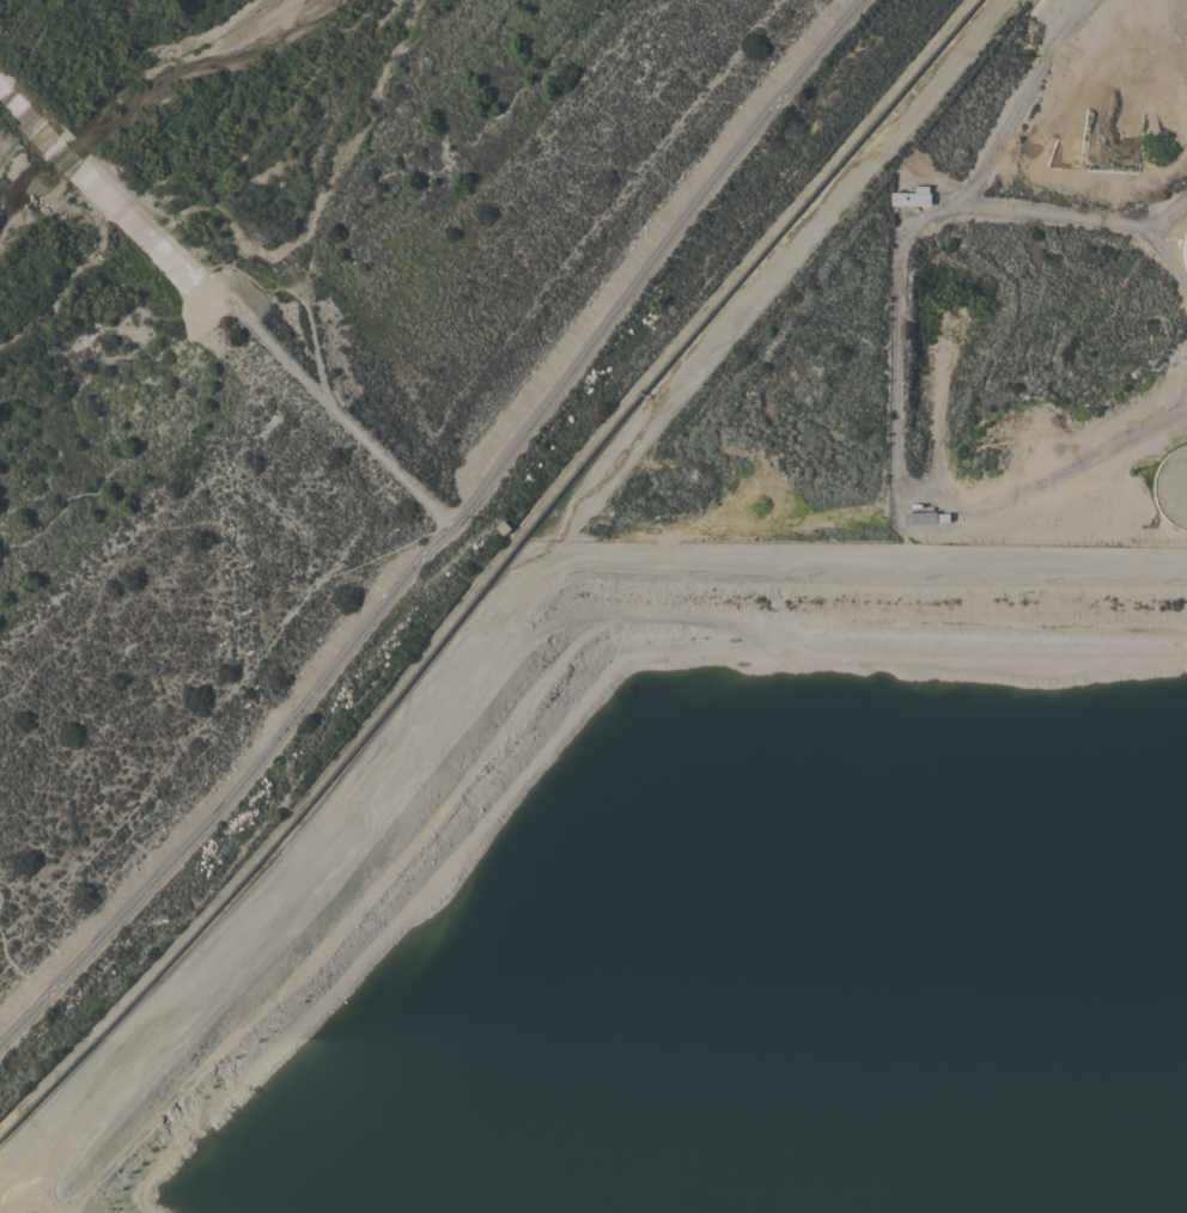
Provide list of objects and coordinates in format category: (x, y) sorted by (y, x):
river: (160, 114)
building: (911, 196)
road: (1086, 215)
building: (1183, 250)
road: (897, 371)
building: (1171, 486)
building: (924, 517)
road: (443, 531)

